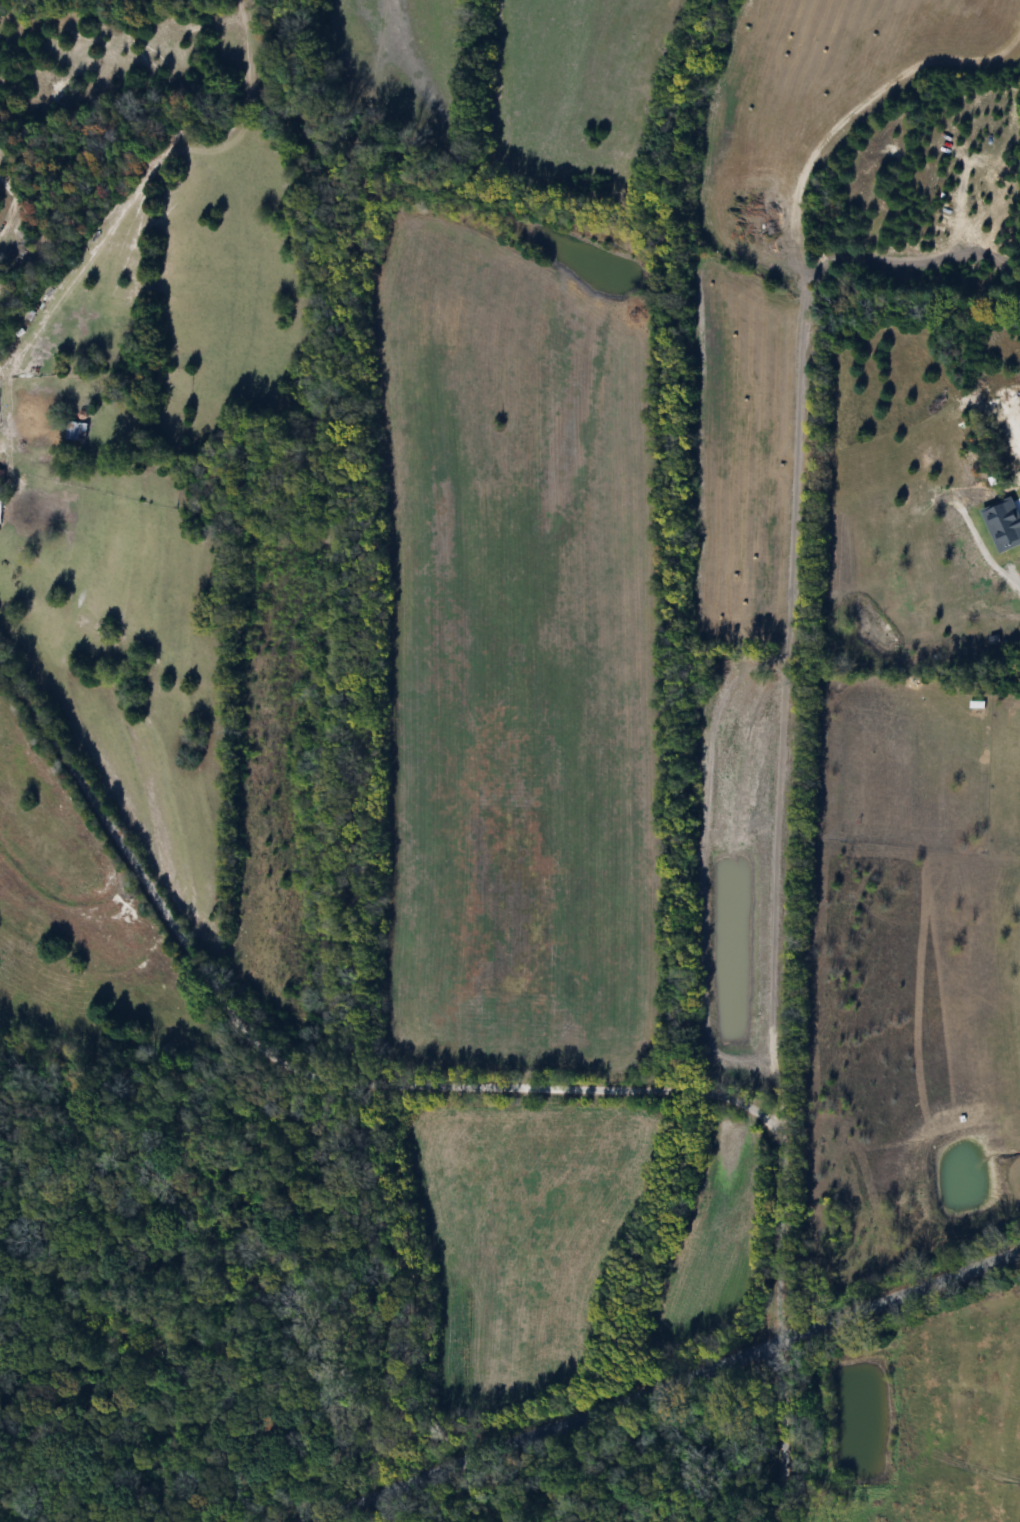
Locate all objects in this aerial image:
building: (73, 431)
road: (990, 566)
road: (388, 1085)
road: (661, 1383)
road: (780, 1430)
road: (504, 1477)

